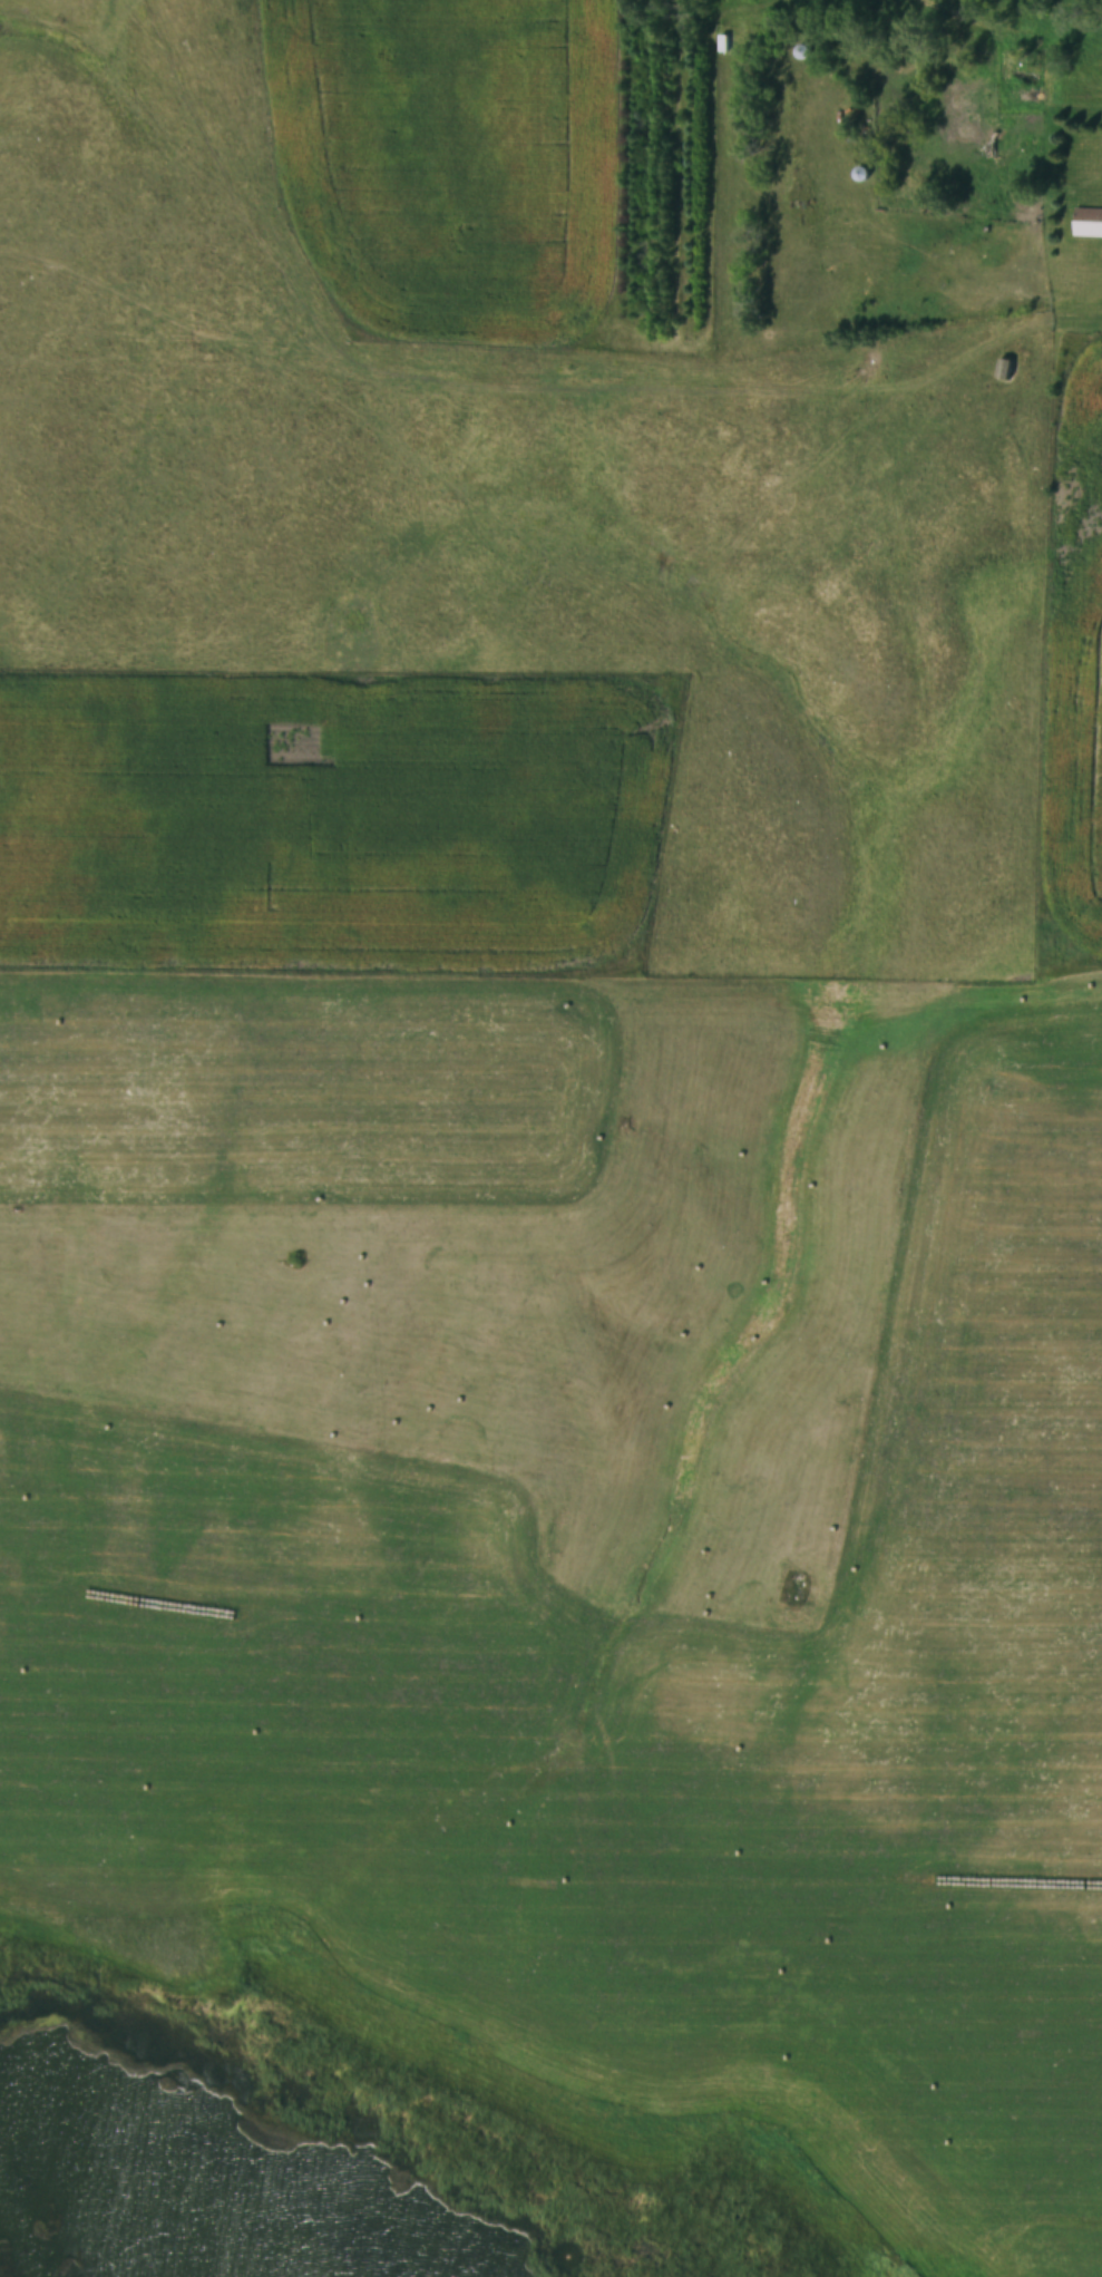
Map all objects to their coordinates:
building: (1086, 221)
building: (1002, 368)

